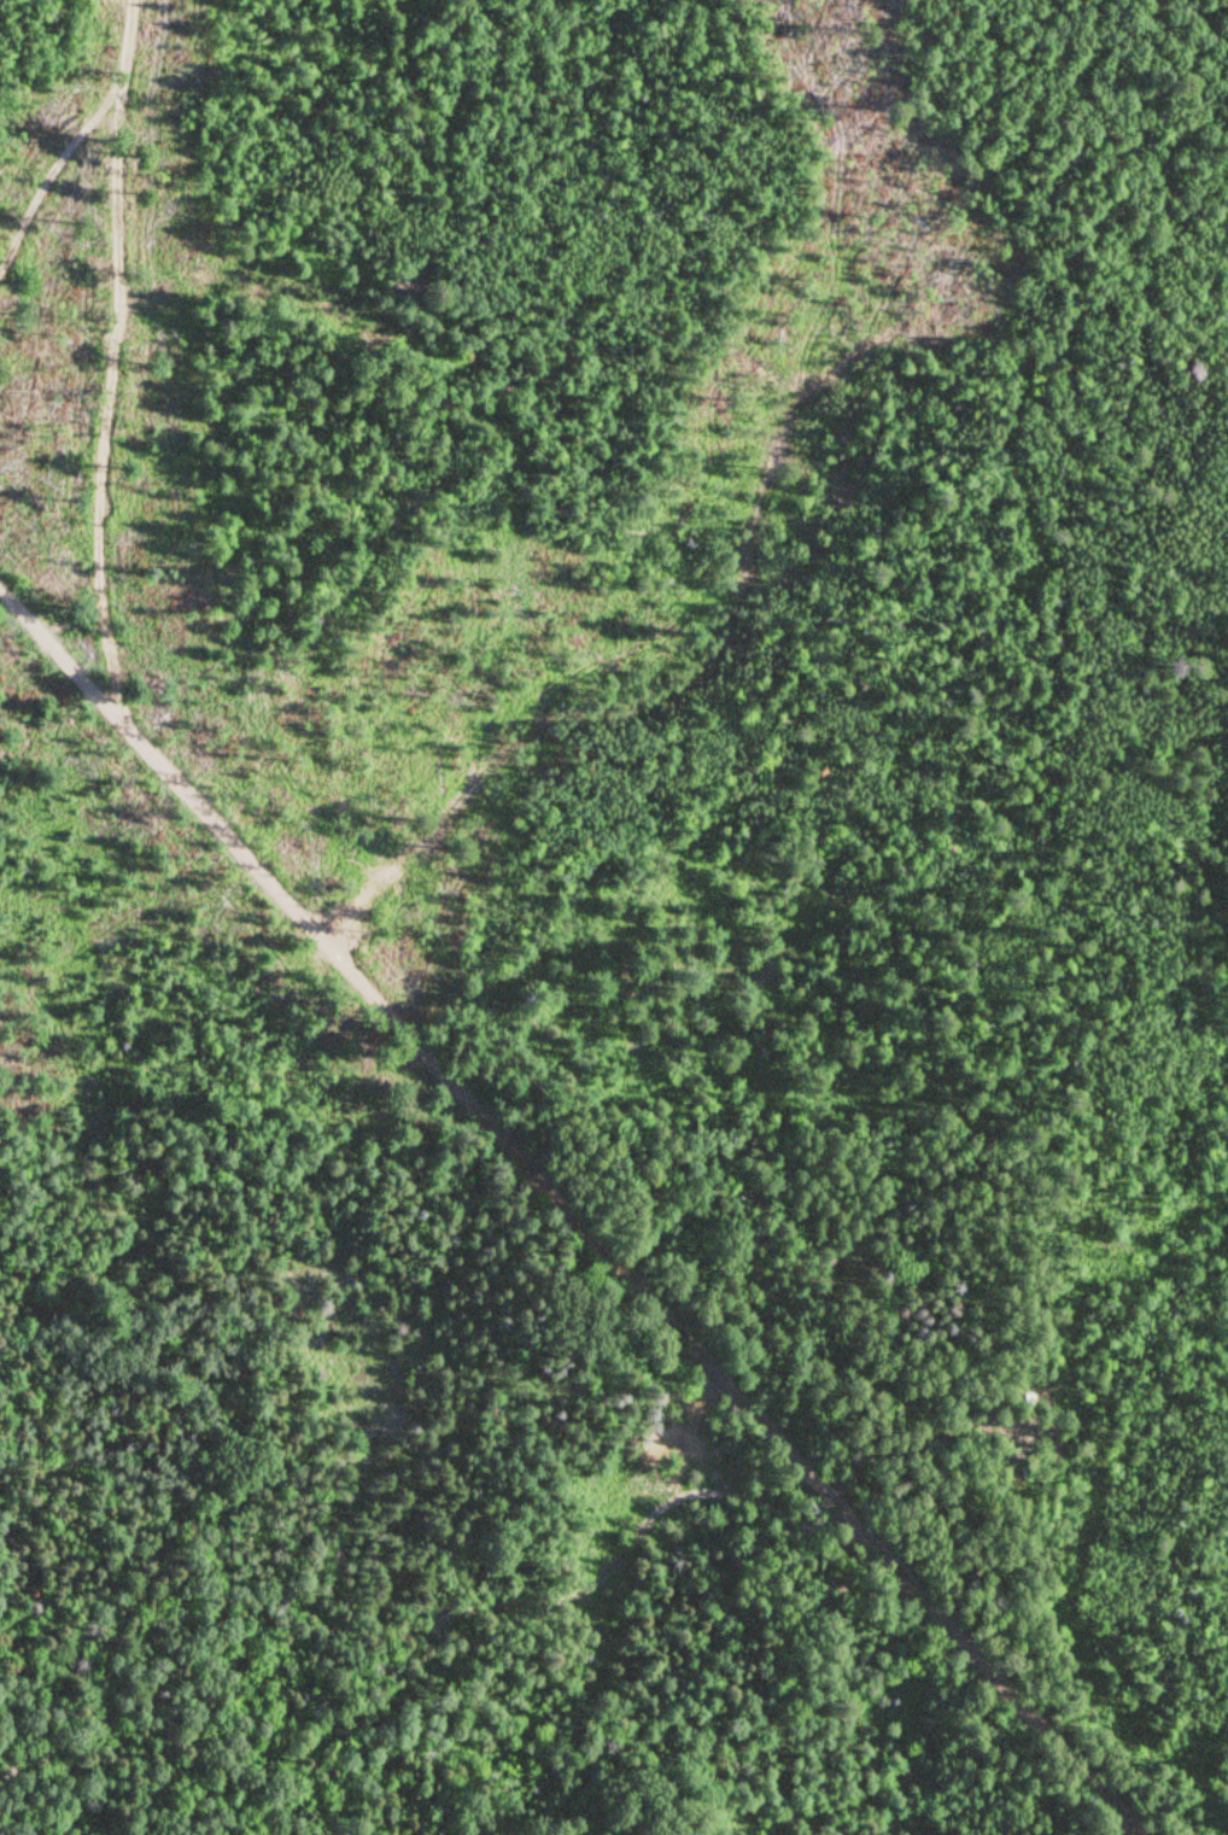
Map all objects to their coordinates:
road: (147, 368)
road: (619, 711)
road: (571, 1210)
road: (454, 1605)

